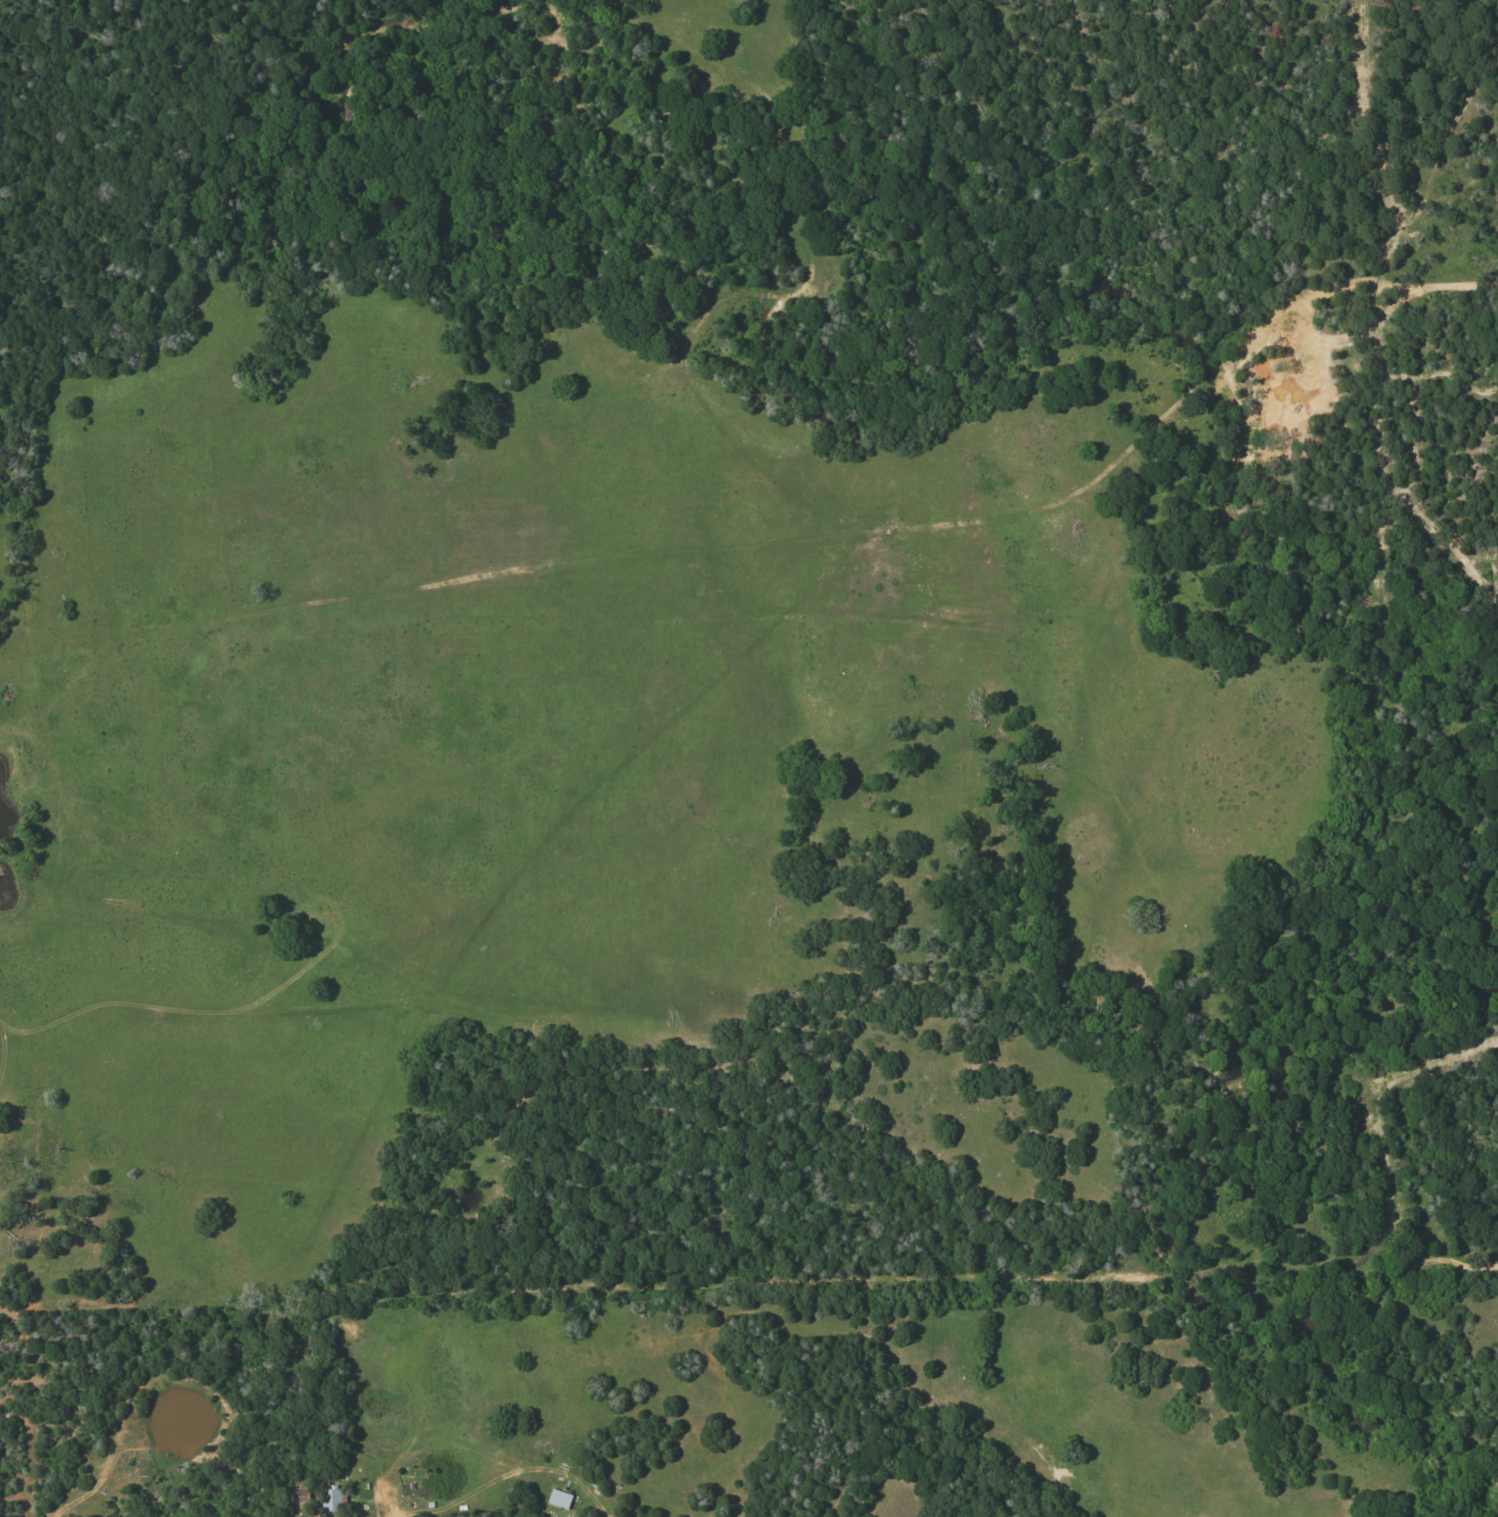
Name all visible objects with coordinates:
building: (559, 1498)
building: (331, 1499)
road: (385, 1515)

